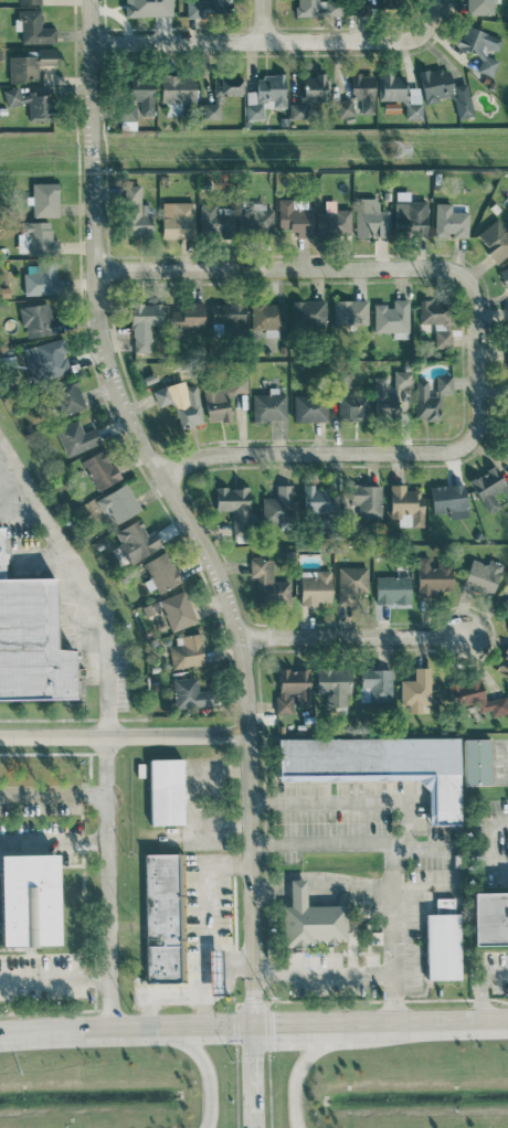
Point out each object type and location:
building: (30, 1)
building: (388, 4)
building: (479, 6)
building: (361, 7)
building: (149, 8)
building: (207, 8)
road: (432, 18)
road: (262, 20)
building: (33, 26)
road: (256, 41)
building: (479, 46)
building: (30, 64)
building: (178, 89)
building: (363, 91)
building: (446, 91)
building: (219, 94)
building: (310, 94)
building: (401, 94)
building: (265, 95)
building: (31, 103)
building: (137, 104)
building: (345, 109)
road: (91, 134)
power tower: (394, 149)
building: (45, 199)
building: (136, 212)
building: (411, 217)
building: (216, 219)
building: (256, 219)
building: (371, 219)
building: (178, 220)
building: (334, 221)
building: (451, 221)
building: (38, 238)
building: (496, 240)
road: (321, 267)
building: (504, 276)
building: (41, 280)
building: (350, 311)
building: (308, 312)
building: (189, 317)
building: (392, 317)
building: (437, 319)
building: (507, 320)
building: (40, 321)
building: (144, 323)
building: (507, 352)
building: (46, 360)
building: (70, 396)
building: (431, 397)
building: (223, 398)
building: (385, 403)
building: (182, 404)
building: (352, 404)
building: (269, 405)
building: (310, 408)
building: (76, 437)
road: (357, 450)
building: (506, 457)
building: (100, 469)
building: (489, 488)
building: (449, 499)
building: (317, 500)
building: (367, 500)
building: (118, 502)
building: (406, 504)
building: (234, 506)
building: (278, 506)
road: (20, 513)
building: (136, 540)
building: (161, 572)
building: (432, 576)
building: (483, 576)
road: (83, 582)
building: (268, 583)
building: (351, 583)
building: (315, 587)
building: (392, 589)
building: (178, 610)
parking lot: (44, 615)
road: (235, 630)
road: (354, 636)
building: (31, 641)
building: (188, 651)
building: (504, 662)
building: (334, 684)
building: (375, 684)
building: (292, 689)
building: (415, 691)
building: (190, 693)
building: (476, 696)
road: (124, 735)
building: (368, 758)
building: (477, 762)
building: (166, 791)
road: (54, 792)
road: (372, 801)
parking lot: (41, 817)
road: (497, 821)
road: (54, 837)
road: (389, 863)
road: (109, 882)
building: (30, 900)
building: (491, 917)
building: (162, 918)
road: (204, 921)
building: (313, 926)
building: (443, 941)
road: (229, 959)
road: (496, 970)
building: (214, 972)
parking lot: (43, 973)
road: (322, 973)
road: (55, 981)
road: (161, 994)
road: (485, 996)
road: (443, 1021)
road: (357, 1023)
road: (296, 1024)
traffic signals: (255, 1025)
road: (127, 1028)
road: (297, 1068)
road: (207, 1071)
road: (255, 1076)

